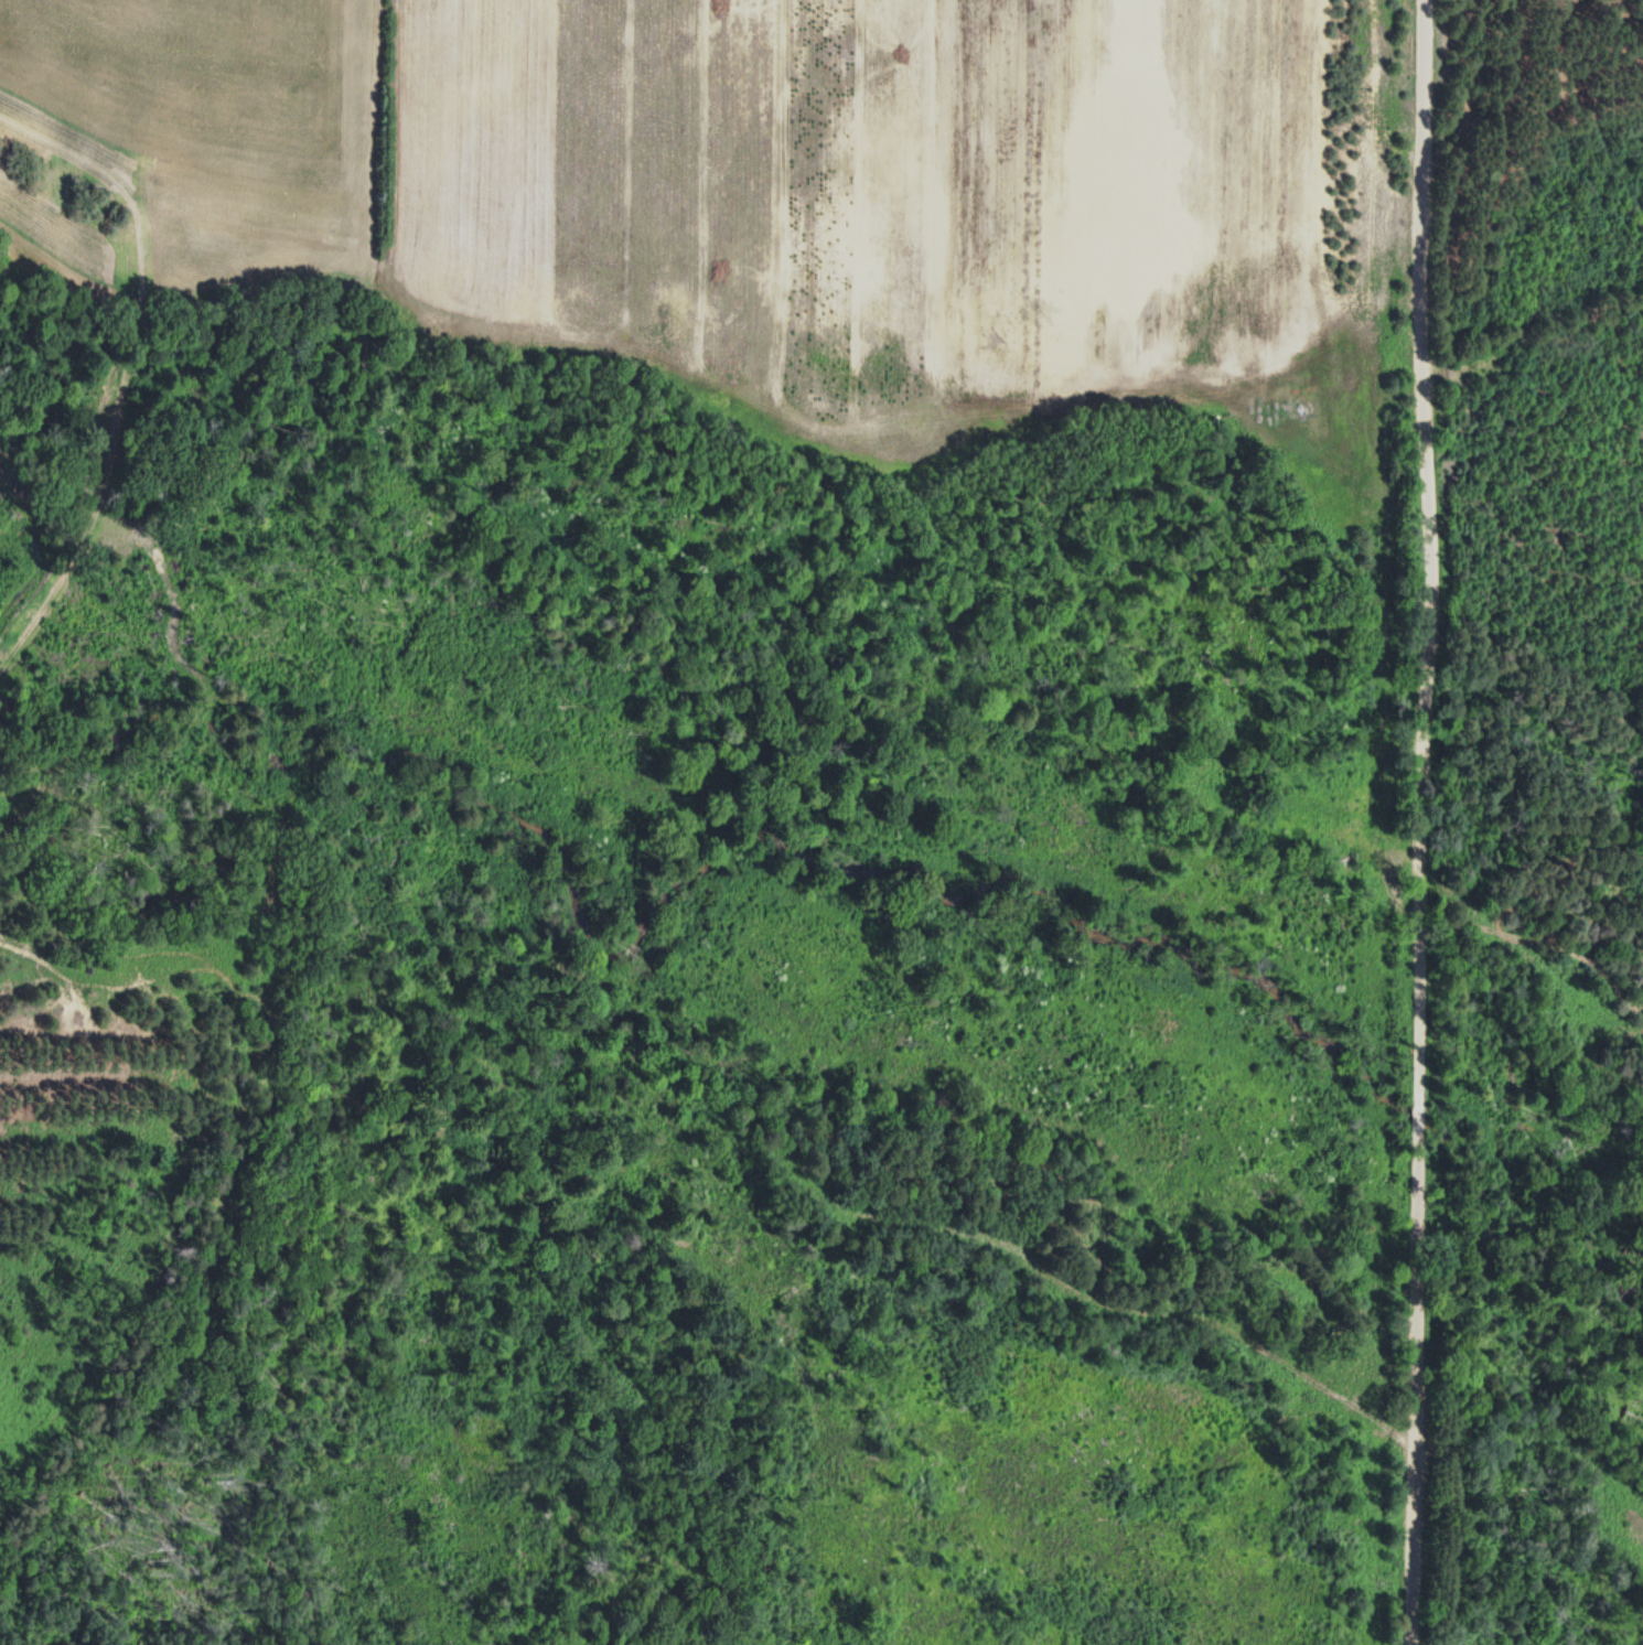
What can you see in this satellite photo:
road: (126, 368)
road: (1418, 544)
road: (1420, 1116)
road: (1312, 1377)
road: (1417, 1394)

